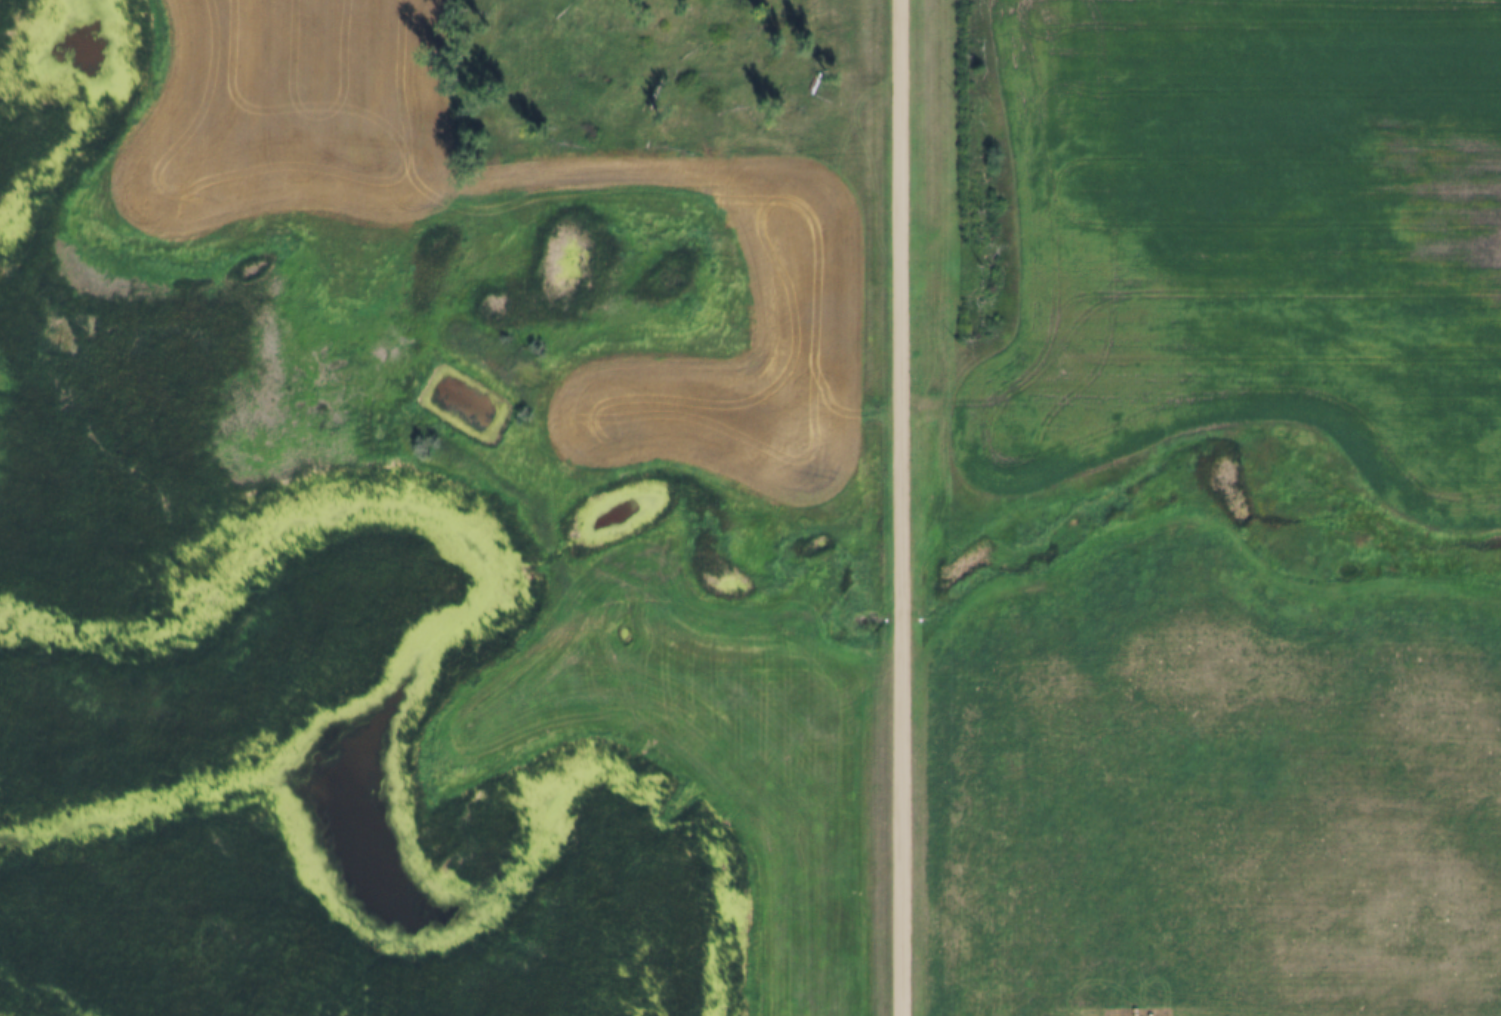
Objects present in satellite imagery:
crop: (798, 272)
road: (899, 508)

